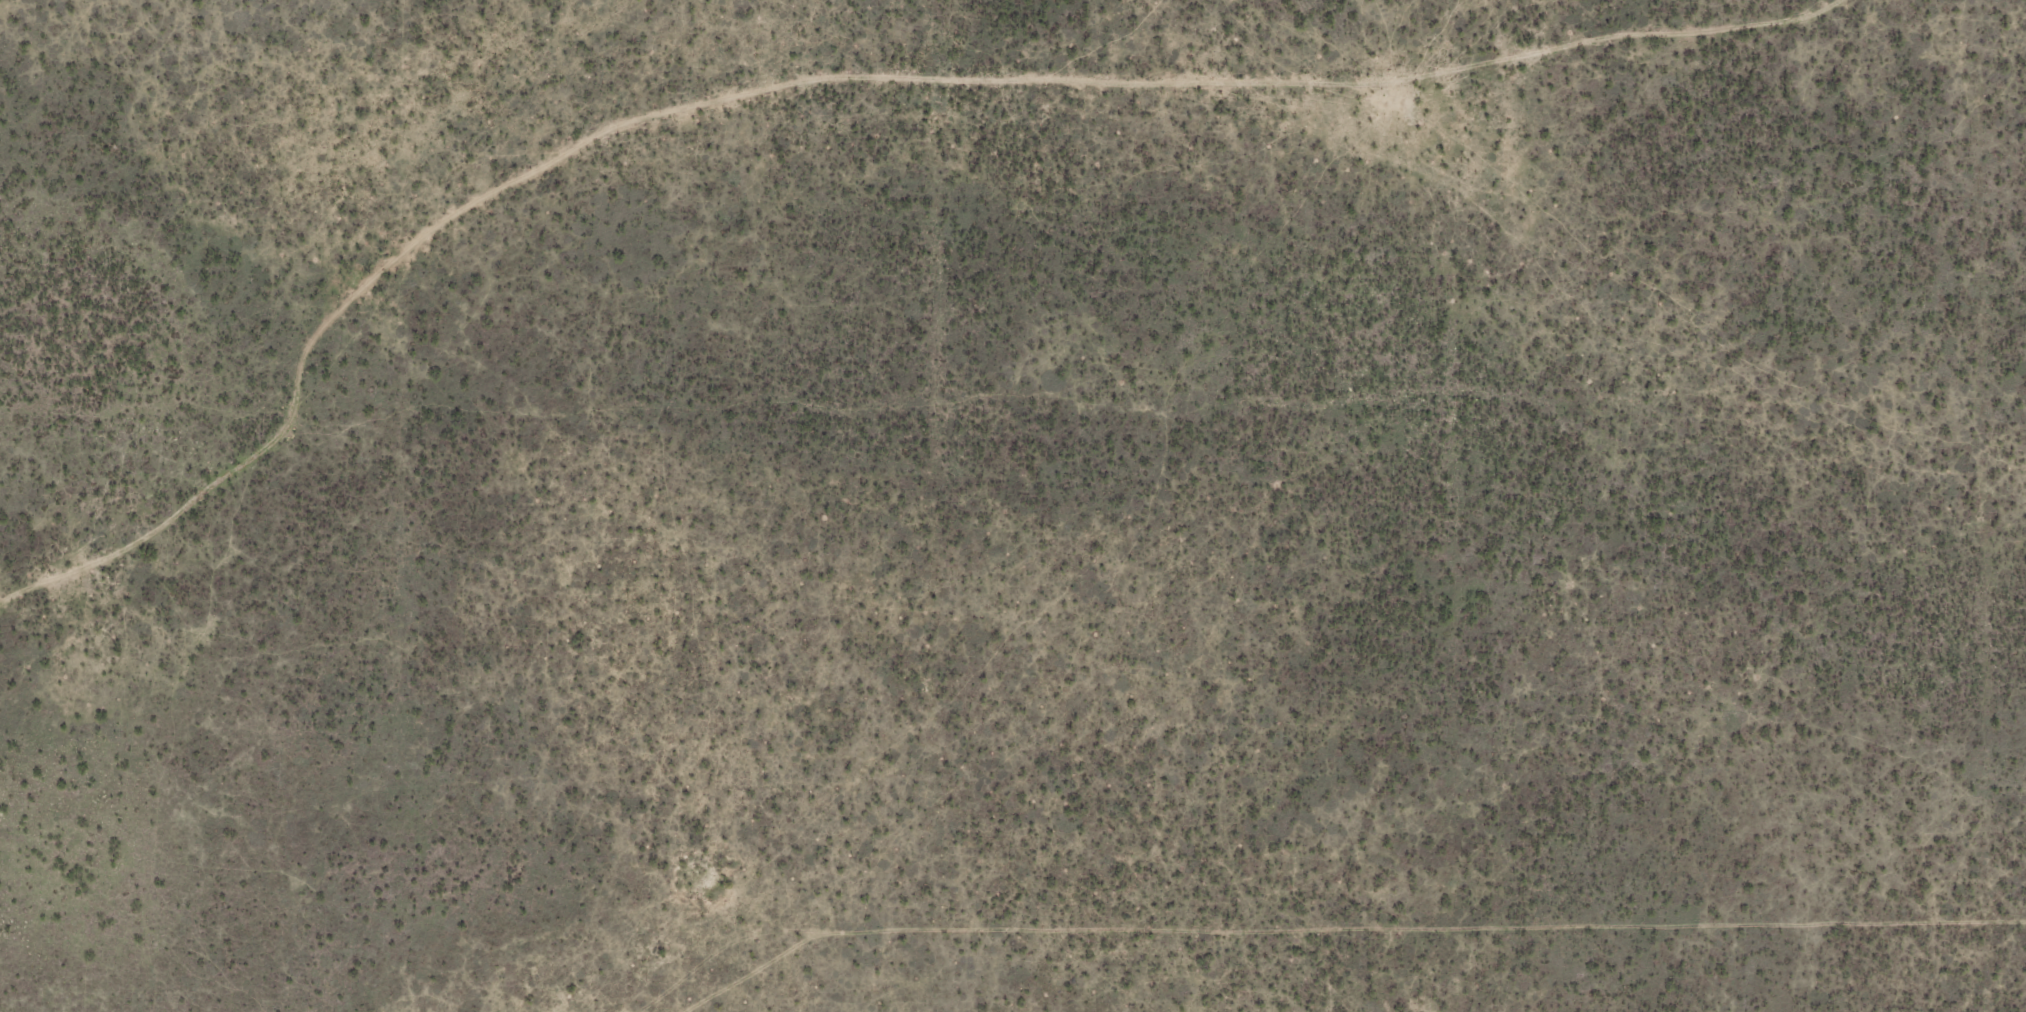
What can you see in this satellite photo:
road: (869, 119)

